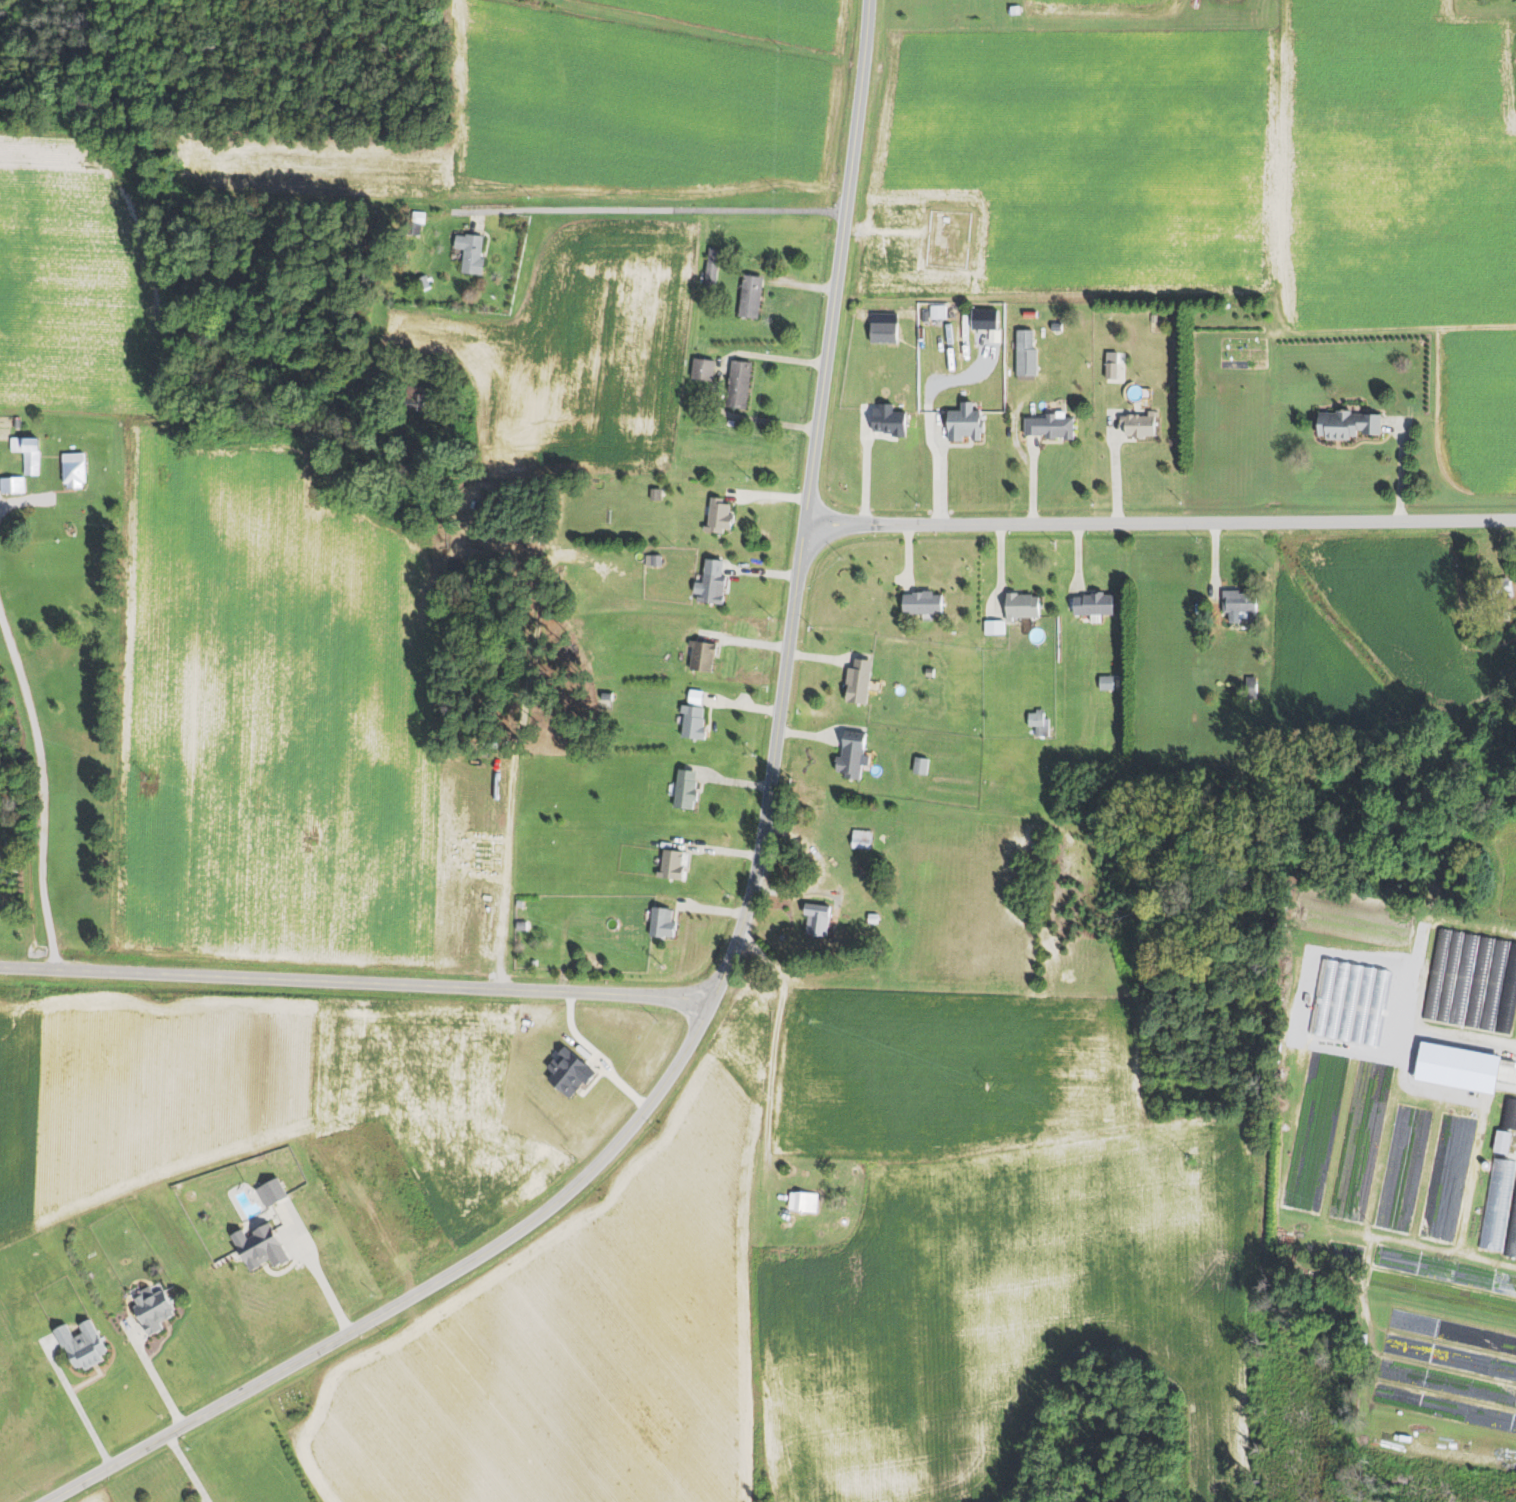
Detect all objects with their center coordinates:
crop: (1201, 168)
road: (649, 210)
road: (885, 231)
park: (947, 238)
building: (475, 251)
building: (709, 267)
building: (747, 296)
building: (859, 315)
building: (925, 316)
building: (1153, 318)
building: (980, 319)
building: (1056, 327)
road: (1398, 330)
building: (882, 332)
building: (1024, 353)
building: (699, 369)
building: (1109, 370)
building: (735, 384)
crop: (1480, 410)
building: (963, 421)
building: (888, 422)
building: (1345, 424)
building: (1137, 425)
building: (1049, 426)
building: (18, 443)
building: (34, 454)
road: (865, 467)
road: (1115, 467)
building: (75, 469)
road: (940, 469)
road: (1399, 470)
road: (811, 473)
road: (1032, 480)
building: (13, 484)
building: (654, 494)
road: (768, 496)
road: (21, 499)
building: (718, 516)
road: (1160, 522)
road: (907, 555)
road: (1076, 555)
road: (1213, 558)
building: (655, 560)
road: (999, 568)
road: (760, 571)
building: (709, 582)
building: (1498, 589)
building: (921, 602)
building: (1019, 604)
building: (1094, 604)
building: (1238, 604)
building: (1506, 616)
building: (992, 627)
crop: (1376, 638)
road: (743, 641)
building: (700, 655)
road: (818, 656)
building: (856, 681)
building: (1105, 682)
building: (1250, 687)
building: (605, 695)
road: (735, 704)
building: (691, 721)
building: (1038, 723)
road: (806, 736)
building: (851, 755)
building: (919, 765)
road: (734, 780)
road: (42, 788)
building: (683, 789)
building: (860, 839)
road: (713, 849)
building: (670, 865)
road: (580, 902)
building: (517, 903)
road: (711, 908)
building: (519, 914)
building: (815, 917)
building: (871, 918)
building: (660, 922)
building: (519, 925)
building: (1436, 974)
building: (1448, 975)
building: (1463, 979)
building: (1477, 982)
road: (358, 984)
building: (1493, 984)
building: (1507, 992)
road: (775, 1038)
building: (1456, 1069)
crop: (299, 1090)
building: (1509, 1114)
building: (1501, 1143)
building: (270, 1191)
building: (802, 1201)
building: (1497, 1204)
building: (1512, 1233)
crop: (991, 1242)
building: (260, 1247)
road: (316, 1271)
road: (443, 1277)
building: (152, 1309)
crop: (582, 1333)
building: (79, 1346)
road: (155, 1373)
park: (291, 1399)
road: (77, 1403)
road: (187, 1468)
crop: (100, 1496)

